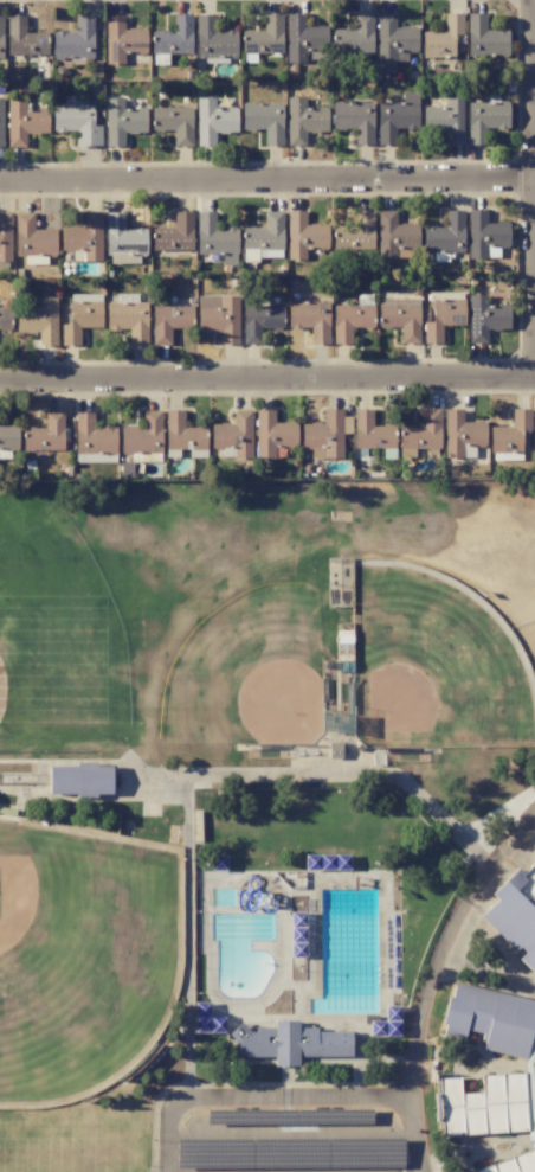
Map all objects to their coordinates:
building: (17, 26)
building: (355, 34)
building: (304, 120)
building: (123, 121)
building: (24, 127)
road: (267, 185)
building: (355, 235)
building: (394, 235)
building: (451, 314)
building: (347, 315)
building: (484, 318)
building: (169, 322)
road: (267, 380)
building: (373, 431)
building: (8, 436)
building: (534, 442)
road: (440, 944)
building: (490, 1019)
road: (286, 1095)
building: (483, 1104)
road: (289, 1136)
road: (292, 1171)

